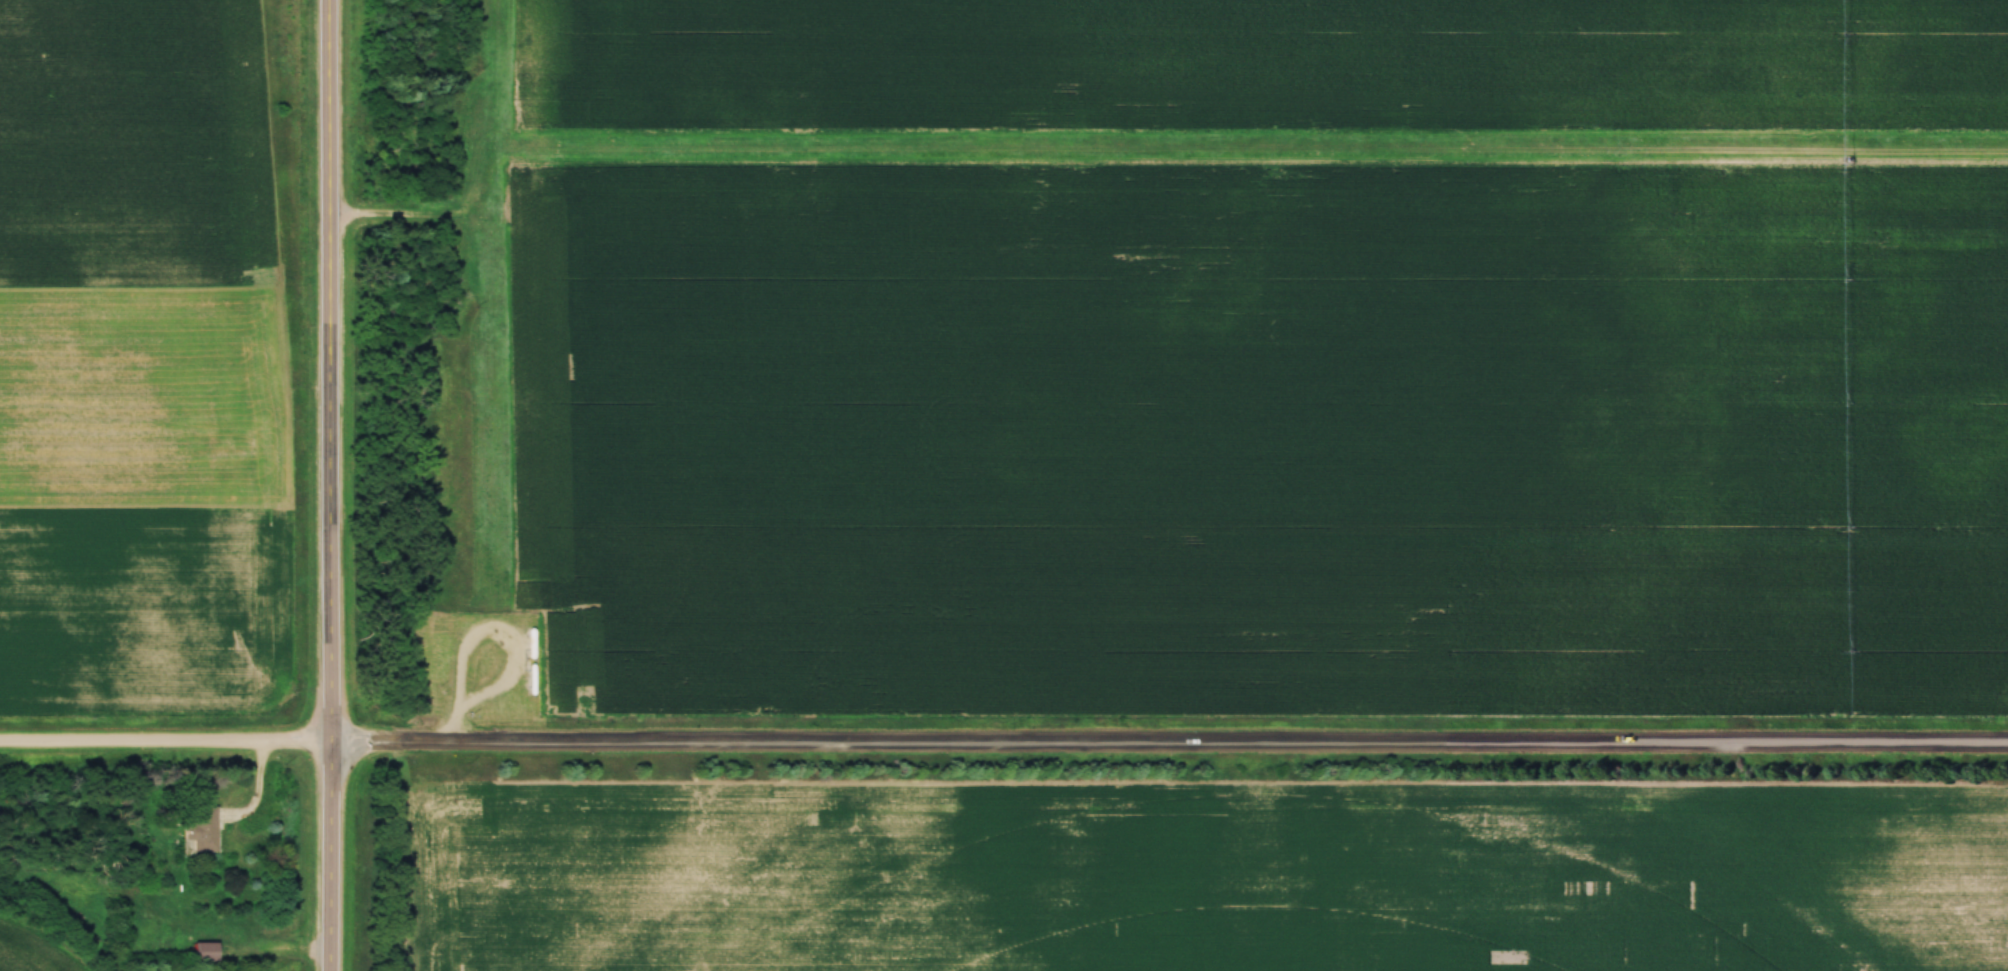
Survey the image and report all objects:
road: (332, 485)
road: (518, 665)
road: (455, 727)
road: (1169, 744)
road: (166, 745)
building: (199, 829)
building: (202, 952)

